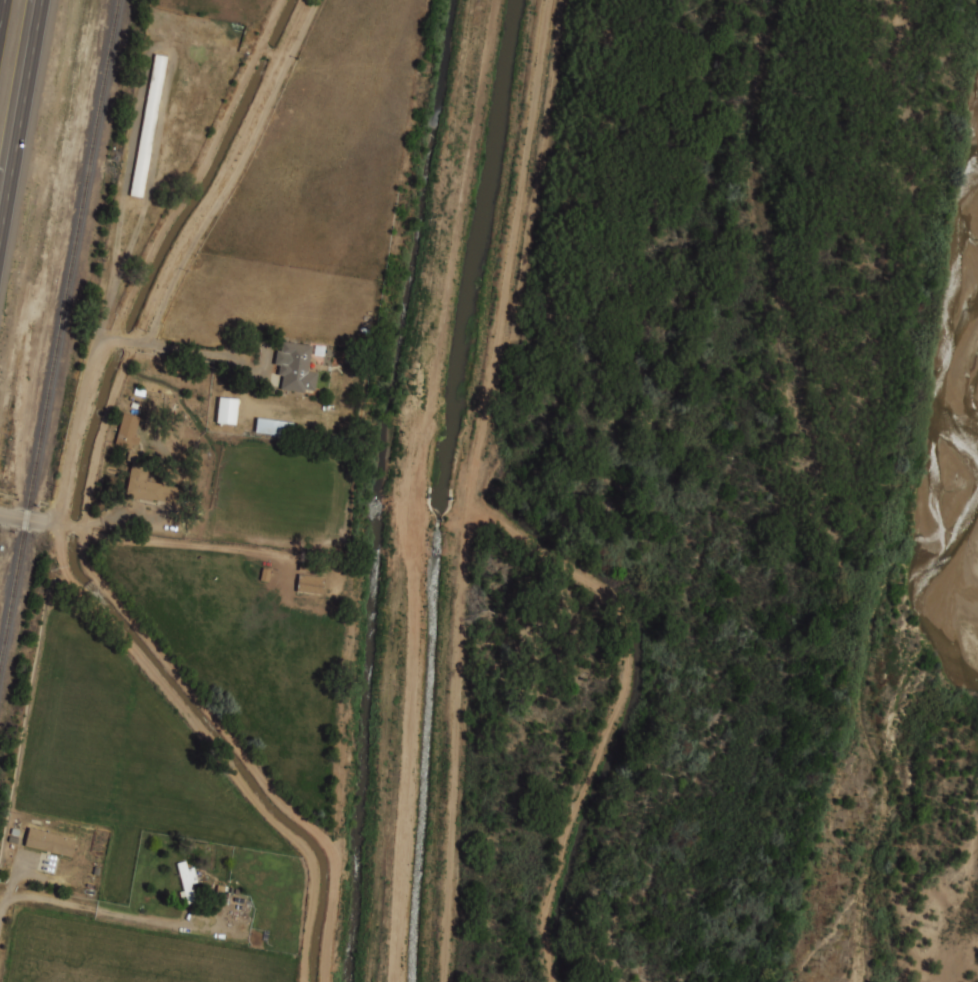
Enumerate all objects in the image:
road: (1, 6)
road: (22, 120)
building: (148, 125)
railway: (57, 334)
building: (296, 366)
building: (228, 411)
building: (276, 427)
building: (129, 430)
building: (148, 486)
road: (66, 497)
road: (27, 514)
building: (310, 584)
building: (52, 843)
building: (189, 882)
road: (36, 899)

